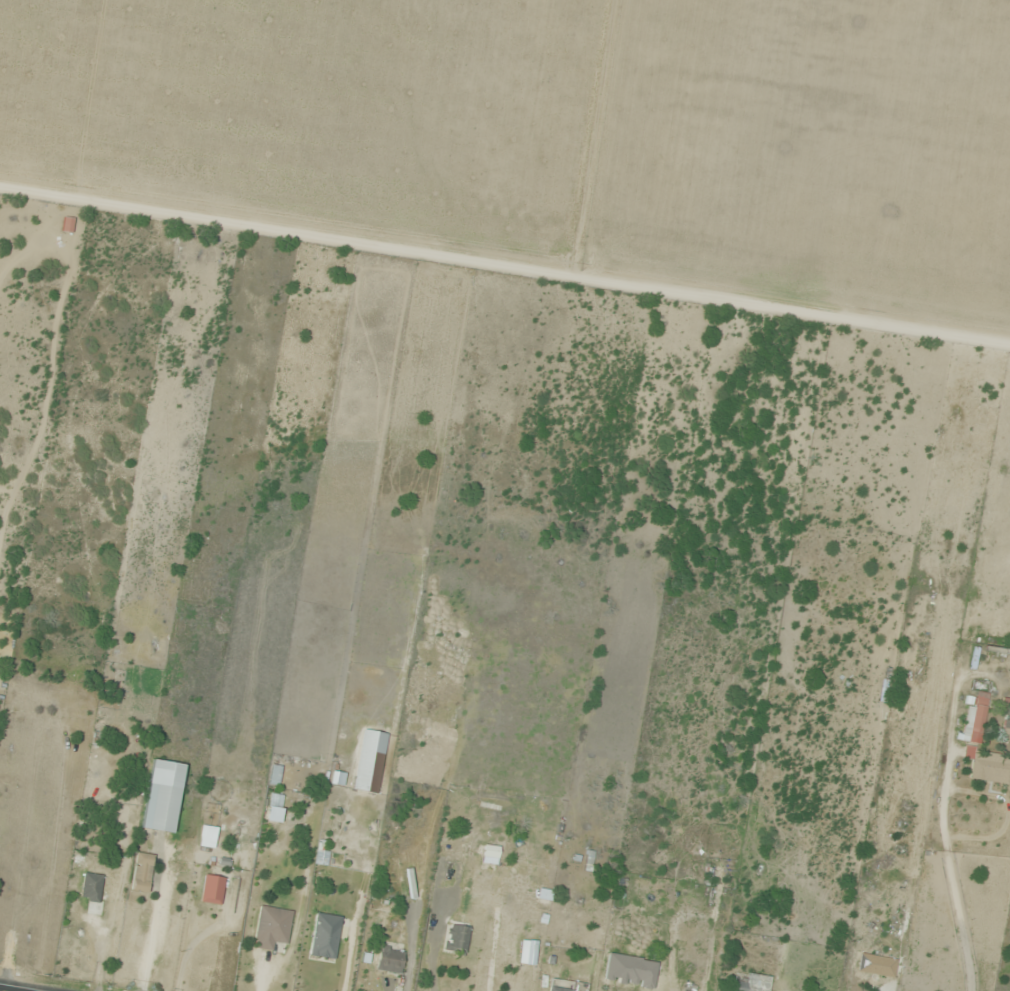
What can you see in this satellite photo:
building: (980, 710)
building: (1007, 727)
building: (370, 761)
building: (990, 771)
building: (337, 778)
building: (276, 801)
building: (589, 861)
building: (351, 874)
building: (91, 886)
building: (272, 927)
building: (457, 940)
building: (389, 959)
building: (877, 965)
building: (753, 983)
building: (559, 989)

